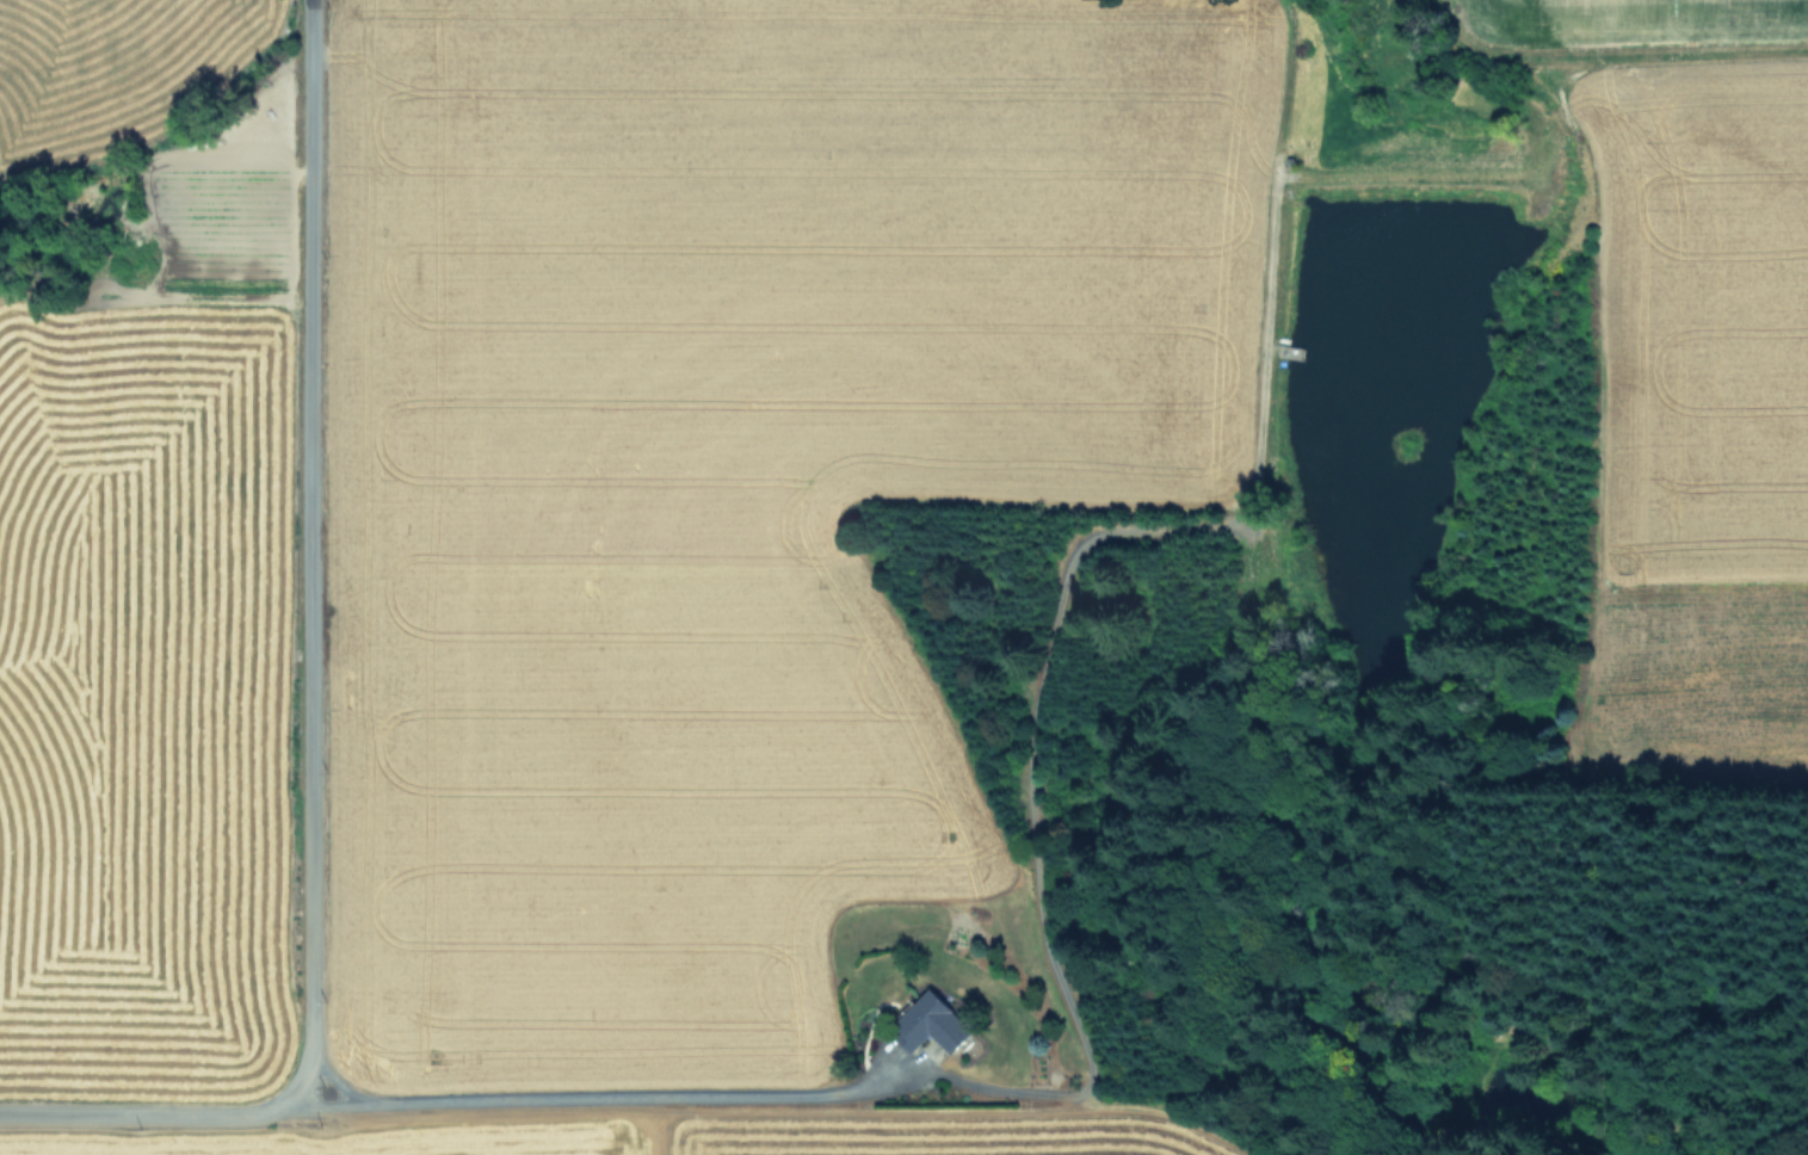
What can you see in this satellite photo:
crop: (1678, 378)
crop: (134, 533)
crop: (723, 539)
road: (307, 693)
building: (936, 1021)
road: (333, 1083)
road: (588, 1101)

